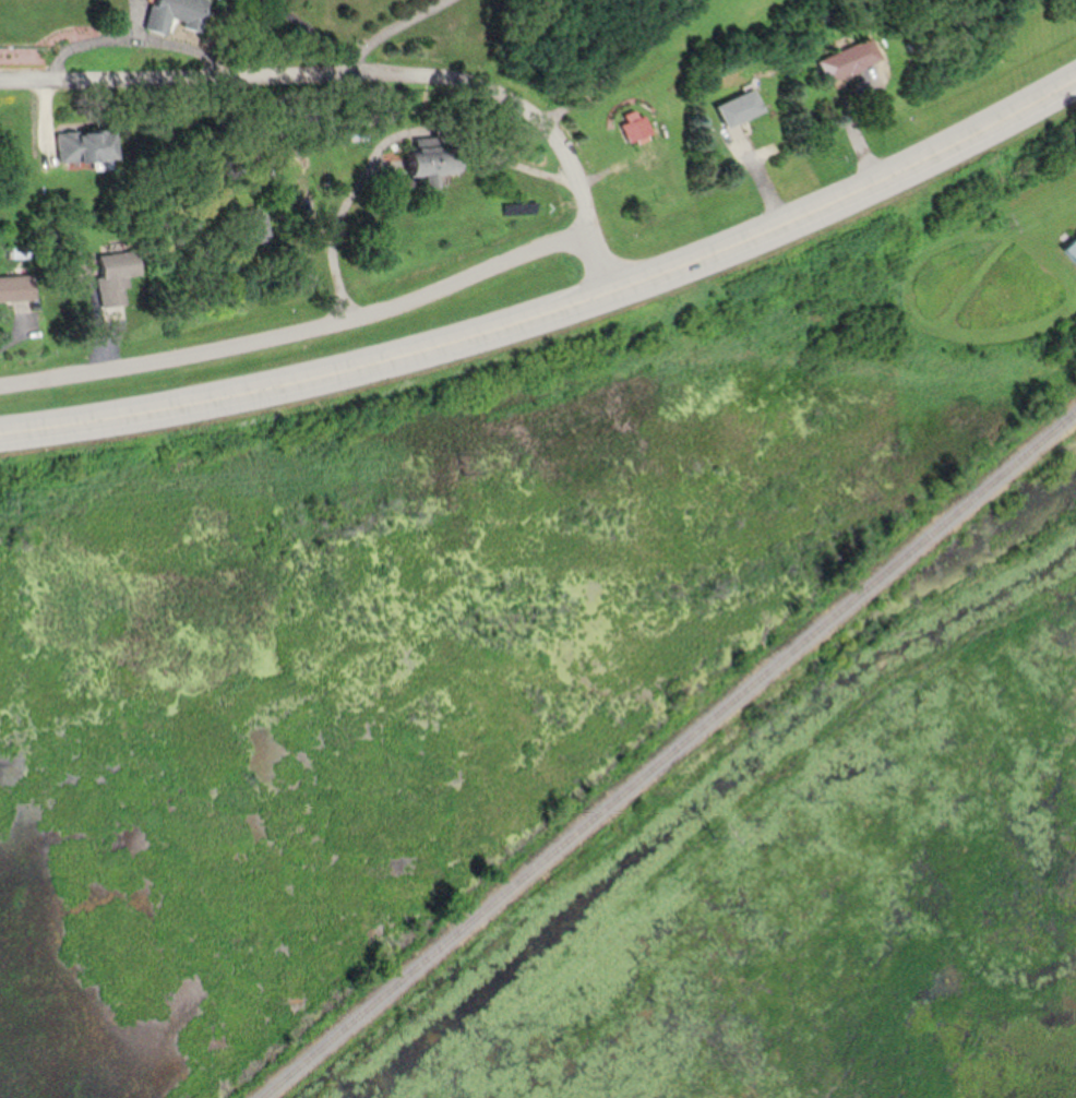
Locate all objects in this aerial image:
building: (177, 13)
road: (311, 27)
road: (378, 29)
building: (851, 59)
road: (375, 71)
building: (742, 107)
building: (636, 124)
building: (87, 145)
building: (435, 166)
power tower: (995, 217)
building: (255, 225)
building: (1072, 244)
building: (117, 275)
building: (16, 287)
road: (555, 306)
road: (301, 327)
power tower: (462, 461)
railway: (667, 753)
power tower: (705, 826)

